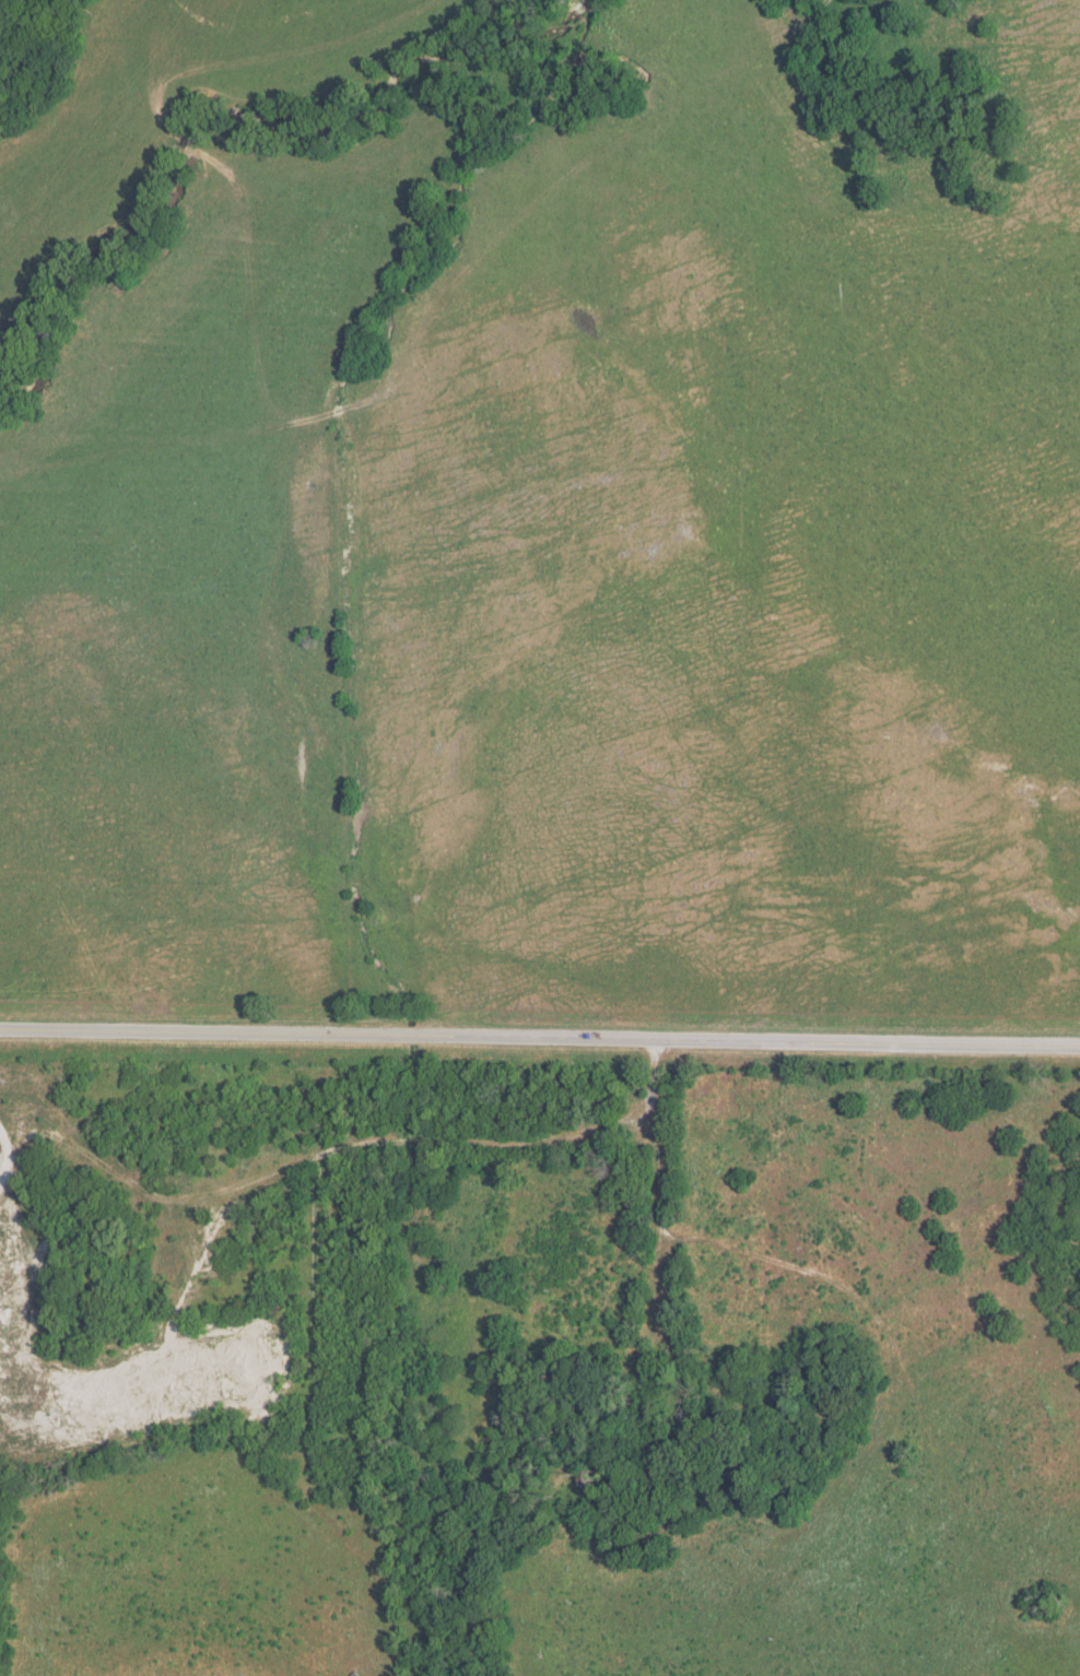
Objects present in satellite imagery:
road: (540, 1035)
road: (349, 1144)
road: (655, 1235)

